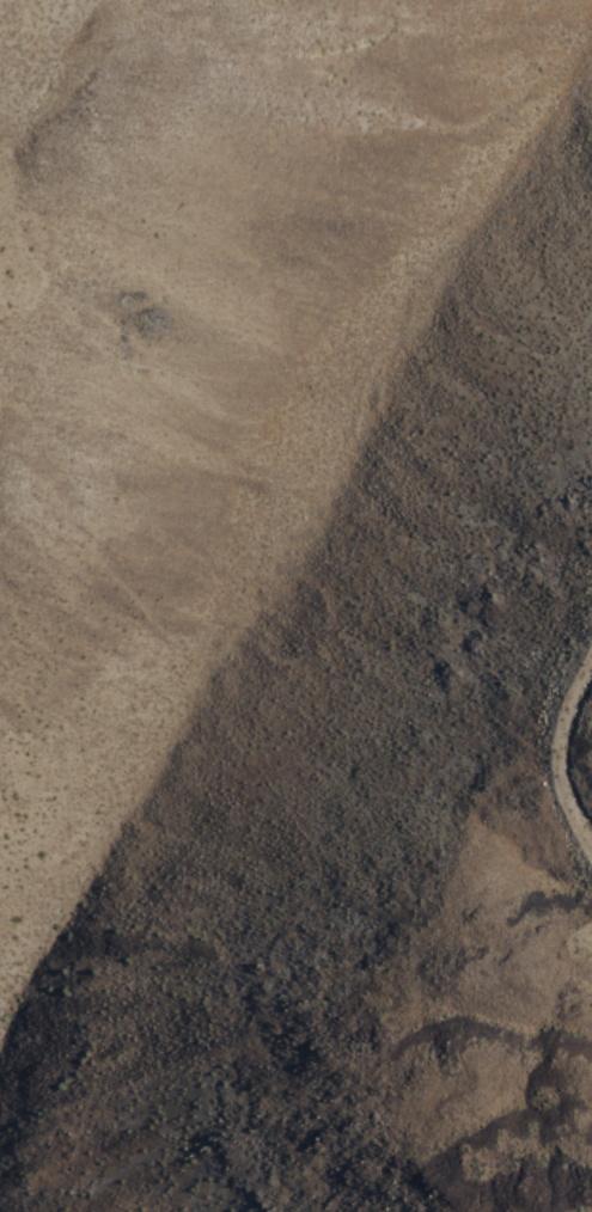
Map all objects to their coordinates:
road: (551, 764)

